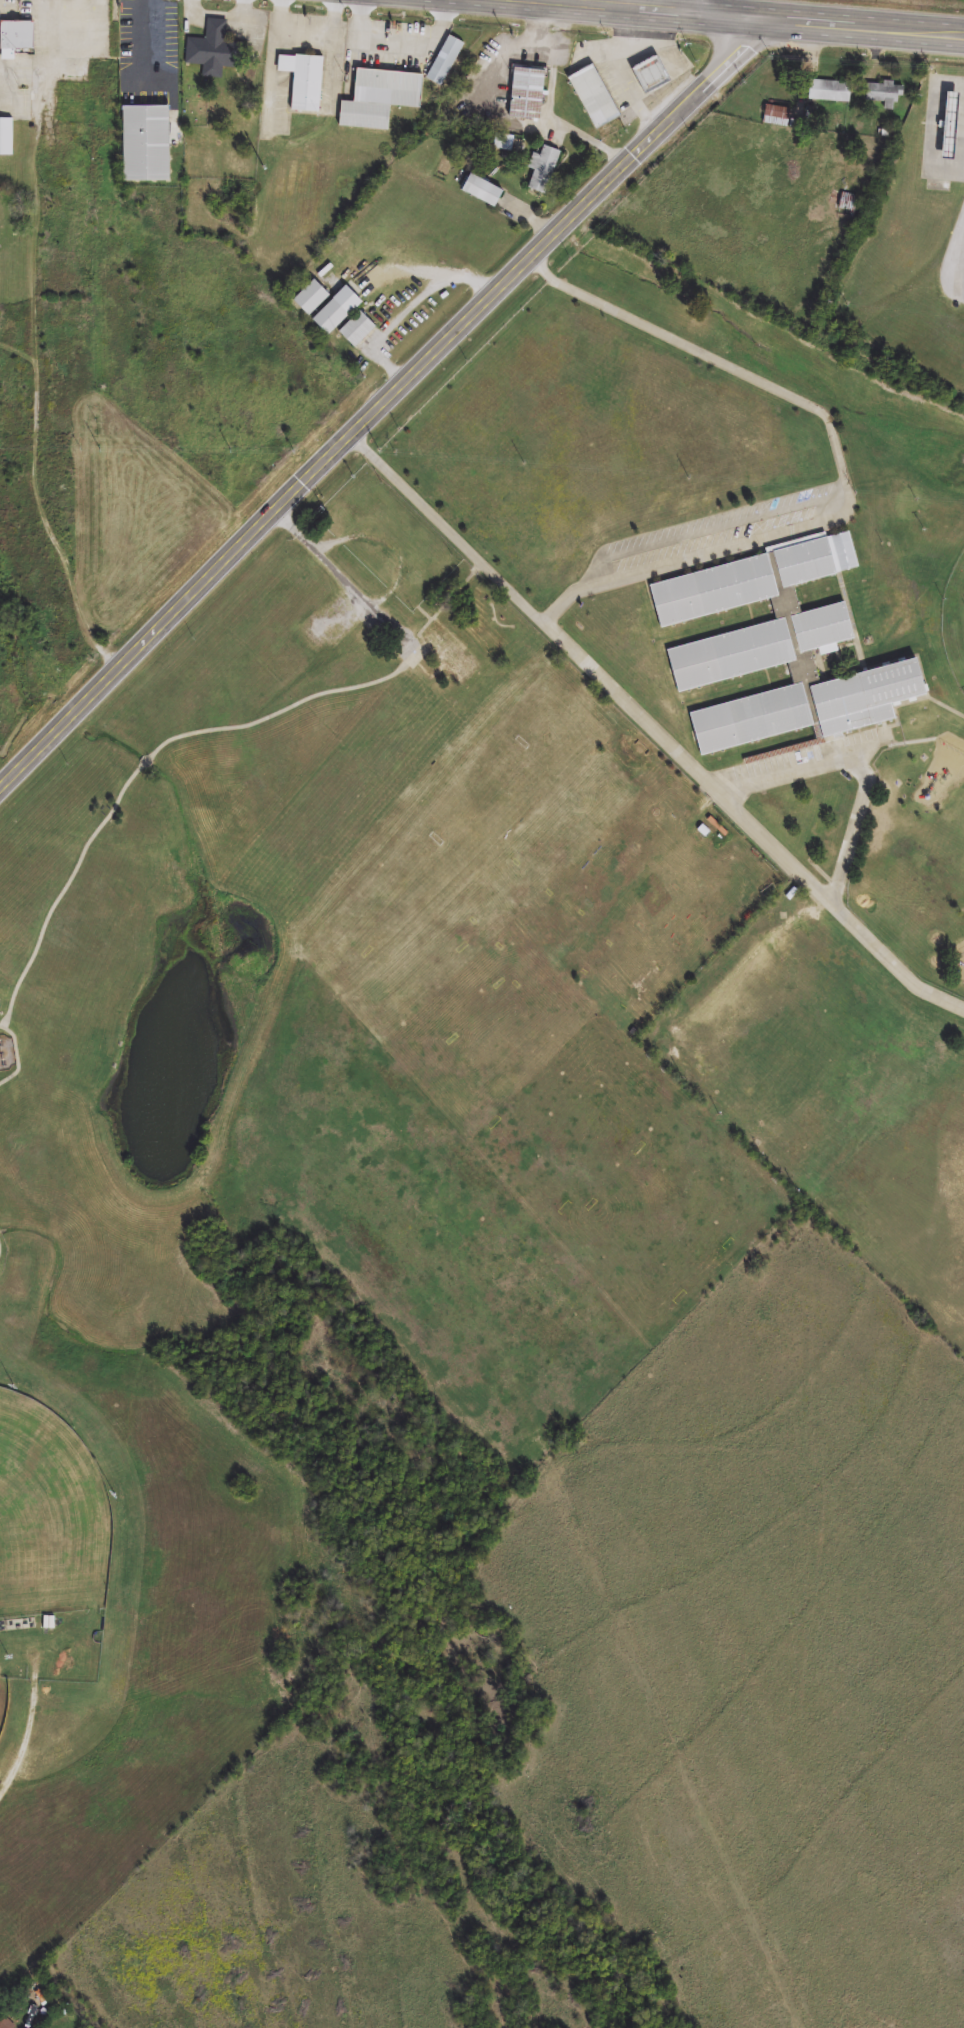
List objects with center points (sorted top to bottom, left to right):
road: (26, 1)
road: (84, 2)
road: (78, 3)
road: (700, 7)
road: (735, 16)
road: (337, 18)
road: (362, 19)
road: (154, 34)
building: (16, 37)
road: (379, 39)
building: (213, 51)
road: (275, 57)
building: (442, 62)
building: (646, 76)
building: (301, 82)
building: (828, 92)
building: (524, 94)
building: (883, 94)
building: (591, 98)
building: (377, 99)
road: (550, 105)
building: (776, 117)
building: (948, 122)
gas station: (948, 122)
road: (935, 125)
building: (5, 138)
building: (146, 142)
building: (541, 171)
building: (479, 192)
road: (441, 271)
building: (308, 299)
building: (333, 312)
road: (401, 319)
building: (354, 331)
road: (381, 405)
road: (842, 458)
road: (711, 531)
building: (814, 558)
road: (337, 566)
building: (713, 588)
building: (822, 625)
building: (730, 652)
building: (448, 657)
building: (862, 696)
building: (750, 716)
road: (651, 729)
road: (868, 756)
building: (5, 2023)

